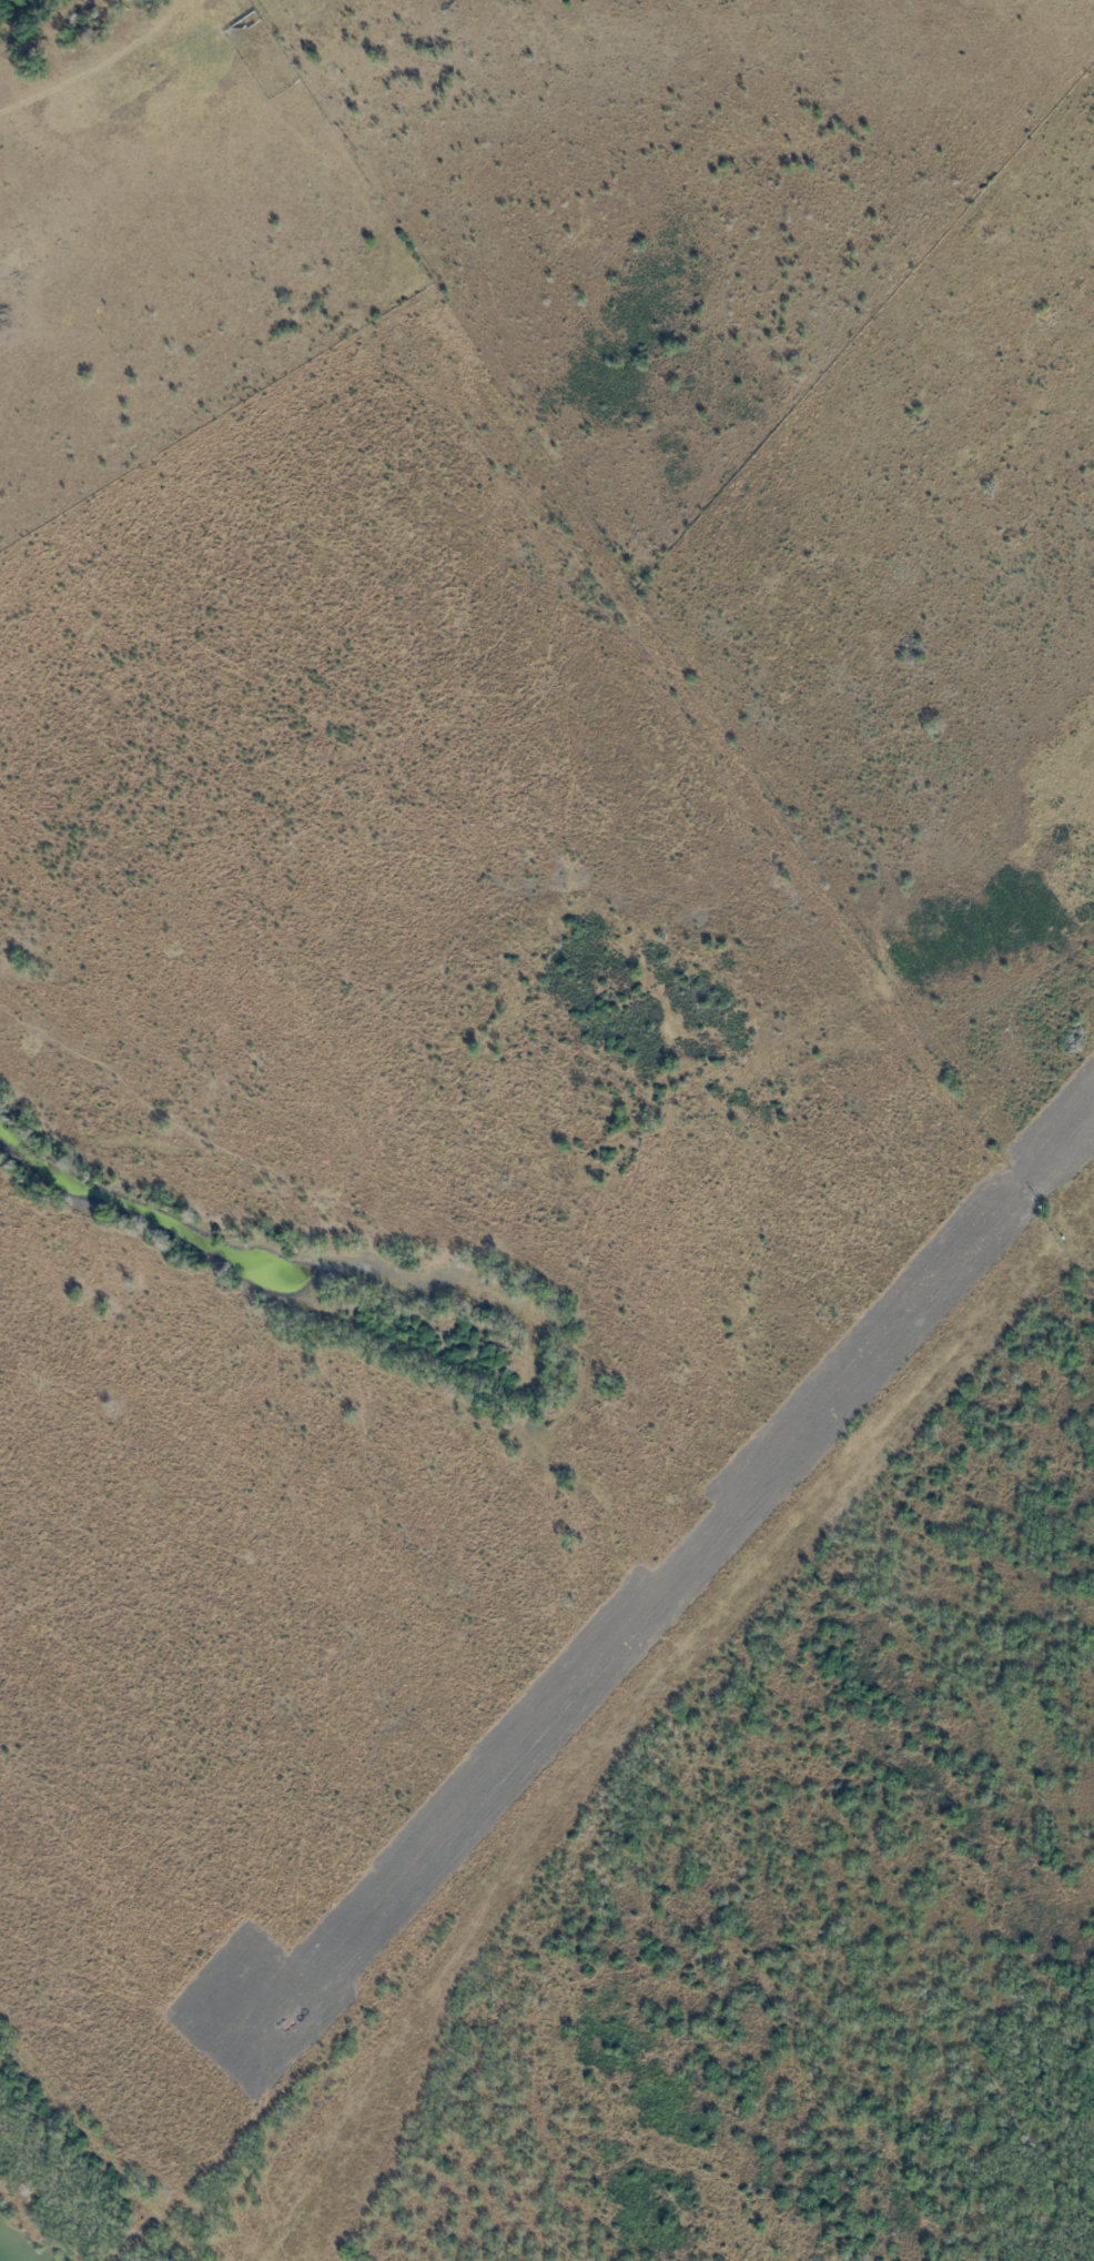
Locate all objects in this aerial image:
road: (449, 26)

